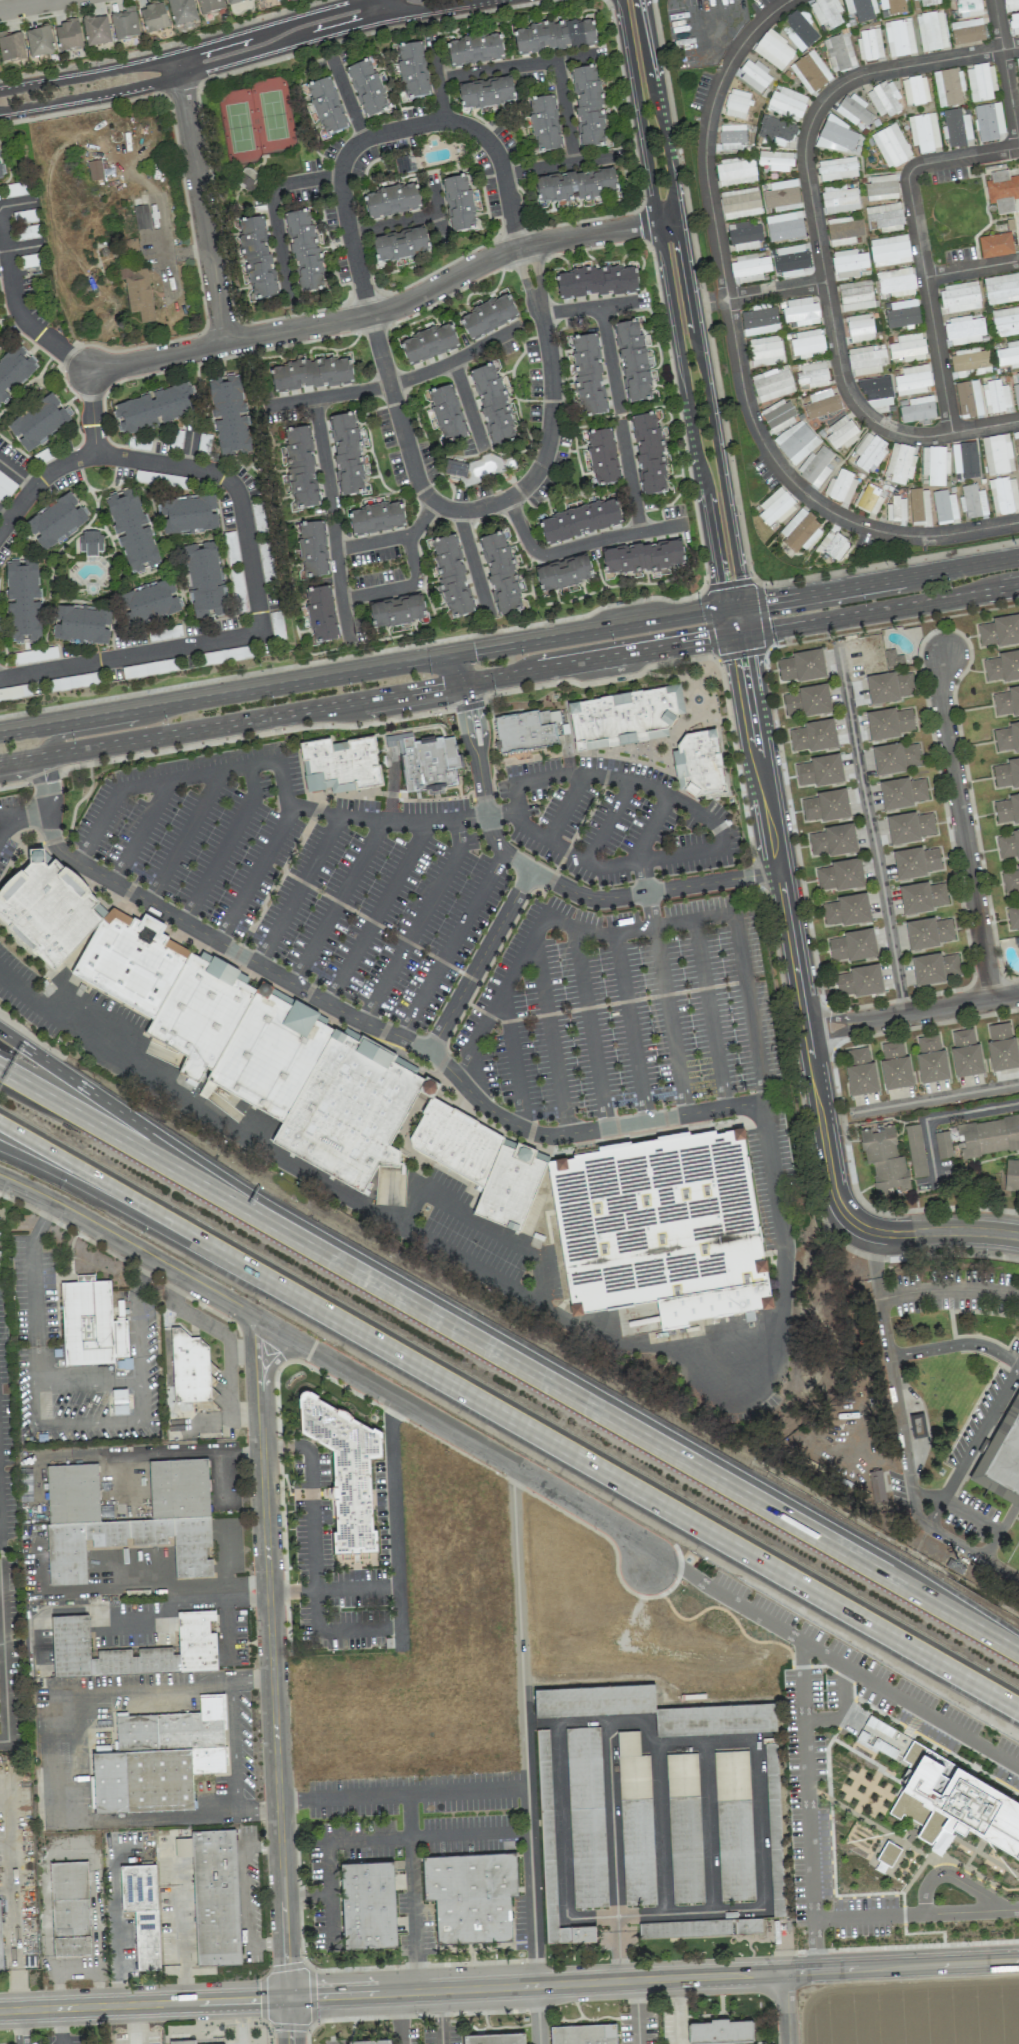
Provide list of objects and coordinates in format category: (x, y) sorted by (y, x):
building: (913, 0)
building: (234, 1)
building: (929, 2)
road: (25, 4)
building: (209, 6)
building: (892, 6)
road: (381, 8)
building: (968, 8)
building: (861, 9)
building: (181, 11)
building: (826, 12)
building: (153, 17)
building: (1013, 23)
building: (125, 24)
building: (96, 30)
building: (798, 30)
building: (932, 31)
building: (967, 31)
building: (67, 36)
building: (554, 36)
building: (899, 37)
building: (38, 41)
building: (869, 44)
building: (11, 46)
building: (474, 49)
building: (773, 49)
road: (189, 52)
building: (839, 52)
road: (235, 56)
road: (177, 64)
building: (1018, 64)
road: (519, 65)
road: (1006, 66)
building: (411, 71)
building: (810, 72)
building: (753, 75)
road: (437, 78)
building: (980, 83)
building: (948, 87)
building: (367, 88)
building: (915, 90)
building: (485, 93)
road: (348, 98)
building: (883, 99)
building: (787, 103)
building: (736, 104)
building: (326, 106)
building: (588, 107)
building: (854, 110)
road: (565, 111)
park: (254, 121)
building: (989, 121)
building: (544, 124)
building: (956, 128)
building: (777, 132)
building: (923, 132)
road: (479, 134)
building: (834, 135)
building: (731, 136)
building: (891, 145)
building: (774, 161)
road: (563, 163)
building: (404, 164)
building: (1, 168)
building: (837, 168)
building: (735, 171)
building: (96, 172)
building: (575, 187)
building: (881, 187)
building: (1002, 191)
building: (781, 196)
building: (838, 199)
building: (391, 201)
road: (17, 203)
building: (458, 203)
building: (740, 203)
road: (201, 207)
road: (436, 209)
road: (273, 213)
building: (885, 216)
building: (143, 218)
road: (393, 222)
building: (784, 227)
road: (599, 231)
building: (843, 231)
building: (744, 236)
road: (818, 236)
building: (399, 244)
building: (995, 245)
road: (24, 247)
road: (918, 247)
road: (168, 249)
building: (889, 250)
building: (304, 252)
building: (256, 257)
building: (790, 261)
building: (848, 263)
building: (749, 268)
road: (971, 270)
road: (536, 271)
road: (523, 276)
building: (596, 282)
building: (895, 283)
building: (1001, 288)
road: (776, 291)
building: (141, 294)
building: (855, 295)
building: (959, 297)
road: (693, 302)
road: (672, 304)
road: (591, 308)
road: (17, 309)
building: (800, 311)
building: (903, 314)
building: (488, 316)
building: (759, 321)
road: (309, 325)
building: (859, 328)
building: (963, 330)
road: (374, 332)
building: (428, 343)
building: (807, 344)
building: (908, 348)
building: (765, 351)
road: (737, 353)
building: (1009, 355)
road: (455, 359)
road: (610, 359)
building: (865, 360)
building: (633, 361)
building: (970, 362)
building: (15, 371)
building: (311, 374)
building: (811, 374)
building: (588, 376)
building: (913, 379)
building: (772, 384)
building: (1016, 392)
road: (327, 395)
building: (995, 396)
building: (968, 399)
road: (467, 404)
building: (821, 404)
building: (492, 405)
building: (155, 409)
building: (917, 409)
road: (91, 412)
building: (447, 413)
building: (778, 416)
building: (230, 418)
building: (40, 423)
road: (549, 432)
building: (840, 434)
building: (796, 441)
building: (1016, 441)
building: (869, 452)
road: (322, 454)
building: (346, 454)
building: (649, 454)
building: (997, 454)
building: (601, 457)
building: (1018, 462)
building: (899, 463)
building: (815, 466)
building: (300, 467)
building: (455, 468)
road: (630, 476)
road: (39, 480)
building: (6, 487)
building: (840, 487)
road: (235, 488)
building: (1003, 496)
building: (868, 498)
building: (943, 506)
building: (775, 507)
building: (919, 507)
building: (896, 510)
building: (190, 515)
road: (3, 516)
building: (375, 518)
building: (580, 520)
building: (57, 521)
building: (133, 531)
building: (800, 531)
road: (392, 538)
building: (91, 543)
building: (832, 545)
road: (579, 546)
building: (312, 549)
building: (643, 558)
road: (473, 561)
building: (500, 573)
building: (563, 573)
building: (451, 576)
building: (207, 580)
road: (338, 581)
traffic signals: (720, 582)
road: (876, 582)
road: (401, 586)
traffic signals: (771, 600)
building: (24, 602)
building: (150, 603)
road: (878, 610)
building: (396, 611)
building: (320, 613)
road: (736, 620)
building: (82, 624)
building: (999, 631)
road: (581, 632)
traffic signals: (704, 641)
traffic signals: (474, 651)
road: (131, 654)
road: (353, 655)
road: (601, 658)
road: (715, 658)
building: (893, 659)
traffic signals: (743, 661)
road: (449, 665)
building: (801, 666)
building: (1002, 666)
road: (598, 681)
traffic signals: (442, 686)
building: (889, 686)
road: (214, 696)
building: (806, 701)
building: (1007, 701)
road: (466, 705)
traffic signals: (469, 711)
building: (626, 720)
road: (232, 722)
building: (890, 722)
road: (99, 729)
building: (527, 732)
road: (254, 735)
building: (813, 736)
building: (1007, 738)
building: (895, 757)
road: (256, 763)
building: (341, 764)
building: (432, 767)
building: (700, 767)
building: (820, 770)
building: (1006, 773)
road: (13, 785)
building: (902, 792)
building: (826, 805)
road: (566, 809)
building: (1007, 809)
road: (20, 820)
road: (402, 821)
road: (4, 822)
parking lot: (614, 822)
road: (610, 824)
road: (961, 826)
building: (910, 827)
parking lot: (11, 828)
road: (870, 829)
road: (140, 831)
road: (184, 836)
building: (833, 840)
road: (226, 844)
building: (1009, 844)
road: (711, 848)
building: (916, 862)
parking lot: (308, 875)
building: (840, 875)
road: (550, 880)
building: (1010, 881)
road: (298, 890)
building: (922, 897)
road: (782, 899)
road: (336, 902)
building: (847, 910)
building: (48, 912)
road: (376, 912)
building: (1013, 916)
road: (418, 922)
building: (928, 932)
building: (1016, 942)
road: (452, 945)
building: (853, 945)
road: (659, 953)
road: (479, 960)
building: (132, 965)
building: (934, 968)
building: (859, 981)
parking lot: (25, 993)
parking lot: (622, 1012)
road: (912, 1012)
road: (710, 1015)
building: (201, 1016)
road: (361, 1021)
road: (631, 1027)
road: (591, 1029)
road: (551, 1039)
building: (1001, 1046)
building: (966, 1053)
building: (270, 1056)
building: (931, 1059)
road: (513, 1062)
building: (895, 1065)
building: (860, 1071)
building: (206, 1089)
road: (936, 1097)
building: (350, 1114)
road: (937, 1116)
road: (128, 1117)
building: (986, 1136)
road: (124, 1142)
building: (457, 1144)
building: (915, 1150)
building: (884, 1161)
building: (1012, 1174)
building: (511, 1190)
road: (121, 1193)
road: (837, 1198)
road: (120, 1207)
road: (42, 1222)
building: (663, 1231)
road: (939, 1231)
road: (876, 1265)
road: (948, 1289)
road: (35, 1312)
road: (137, 1319)
road: (201, 1322)
building: (90, 1323)
road: (734, 1335)
road: (332, 1360)
building: (188, 1366)
road: (1005, 1387)
road: (229, 1392)
road: (567, 1393)
building: (119, 1401)
road: (136, 1420)
road: (205, 1450)
building: (1002, 1457)
building: (343, 1473)
road: (630, 1484)
building: (876, 1486)
road: (911, 1489)
road: (312, 1518)
road: (394, 1523)
building: (128, 1530)
road: (121, 1588)
road: (726, 1598)
road: (176, 1599)
road: (316, 1610)
road: (952, 1613)
road: (1, 1617)
building: (196, 1639)
road: (271, 1679)
road: (4, 1692)
road: (909, 1705)
road: (842, 1708)
building: (654, 1710)
road: (523, 1725)
road: (237, 1749)
building: (159, 1758)
road: (73, 1767)
road: (757, 1770)
building: (681, 1774)
road: (401, 1793)
building: (947, 1795)
building: (586, 1817)
road: (611, 1817)
building: (635, 1821)
building: (734, 1825)
road: (564, 1842)
building: (552, 1849)
building: (685, 1849)
road: (329, 1851)
building: (776, 1872)
road: (953, 1878)
road: (811, 1884)
road: (412, 1891)
building: (214, 1894)
road: (307, 1895)
building: (470, 1895)
road: (244, 1896)
building: (367, 1904)
building: (69, 1908)
building: (142, 1911)
road: (116, 1918)
road: (12, 1922)
building: (699, 1927)
road: (814, 1945)
road: (618, 1947)
building: (0, 1952)
road: (509, 1986)
traffic signals: (287, 1996)
road: (785, 2008)
crop: (912, 2010)
road: (679, 2011)
road: (636, 2012)
road: (537, 2014)
road: (440, 2016)
road: (400, 2017)
road: (133, 2024)
road: (18, 2026)
road: (58, 2026)
building: (720, 2030)
building: (583, 2034)
building: (494, 2038)
building: (370, 2041)
road: (337, 2043)

